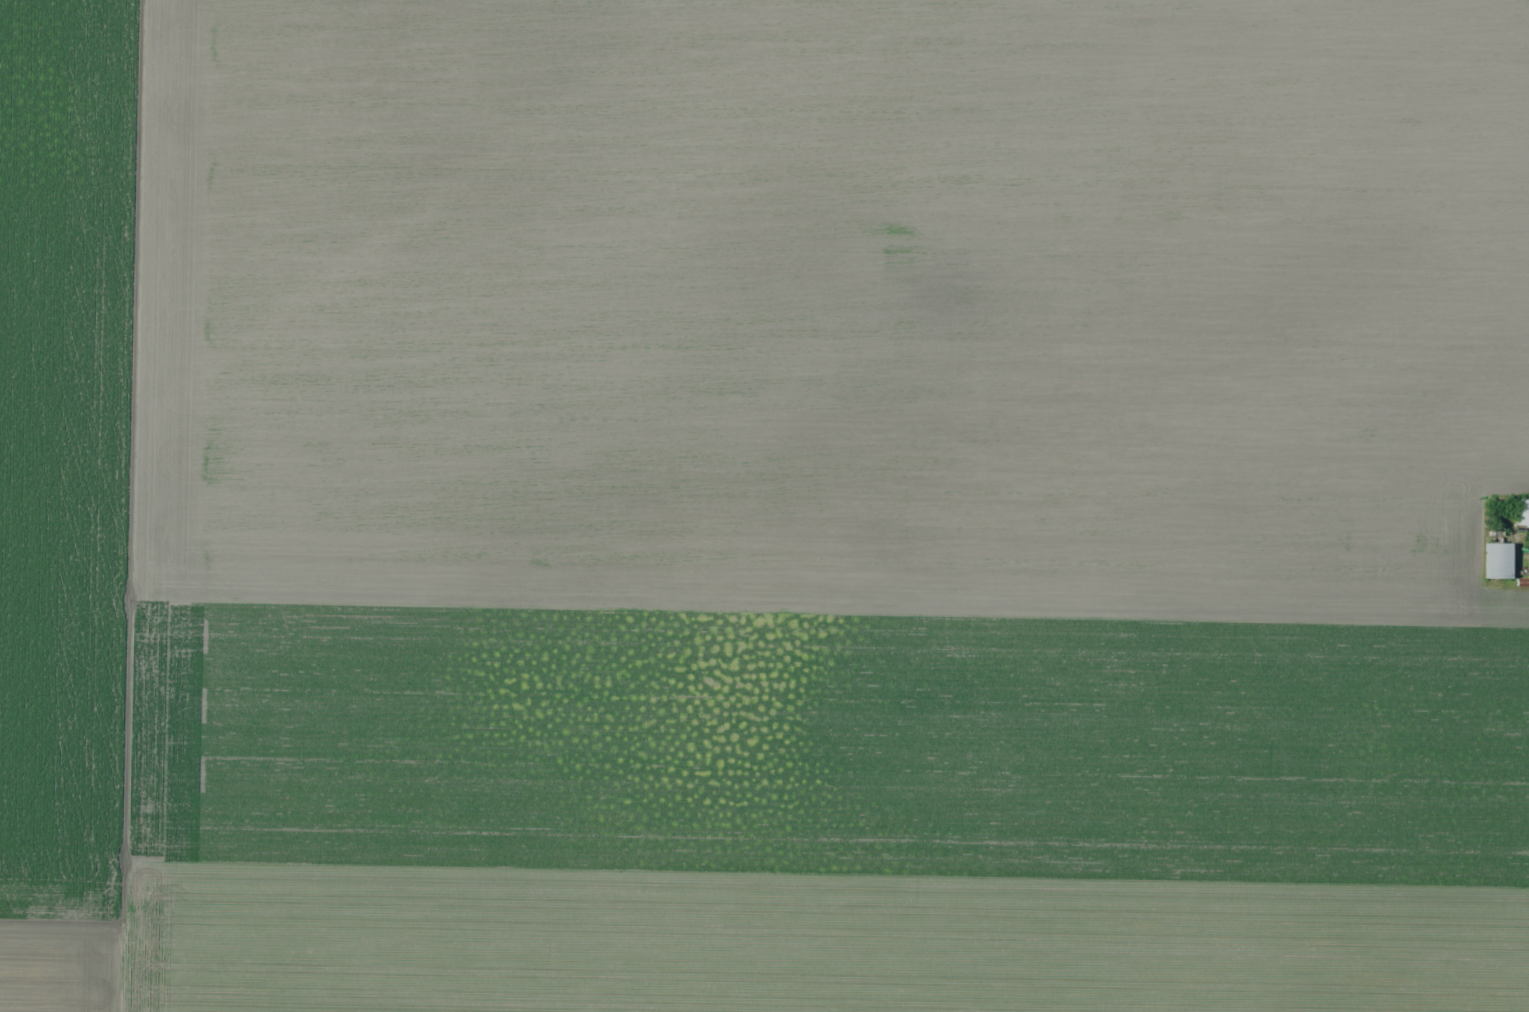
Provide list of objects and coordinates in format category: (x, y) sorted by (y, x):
building: (1521, 513)
building: (1493, 561)

